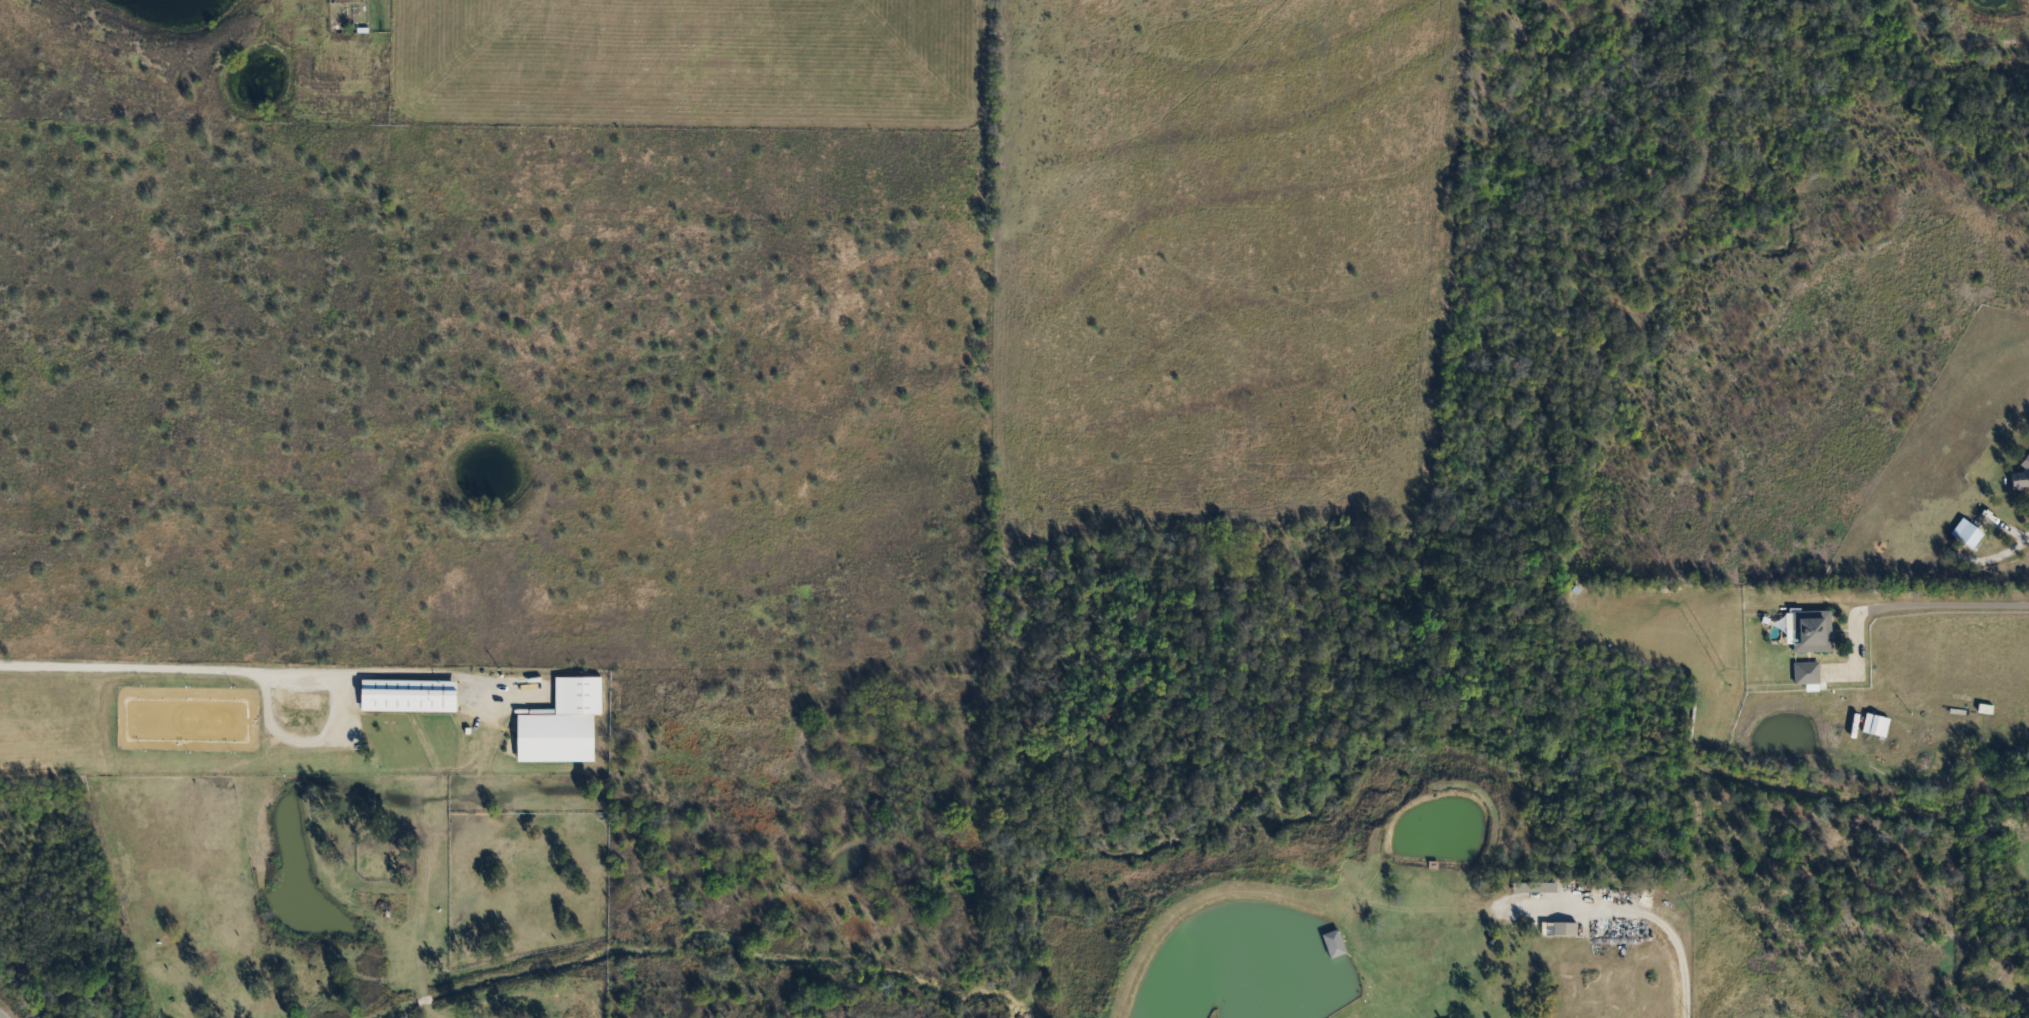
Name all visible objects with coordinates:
building: (2020, 472)
building: (1965, 532)
road: (1918, 603)
building: (1809, 629)
road: (255, 669)
building: (1804, 672)
building: (1985, 694)
road: (1656, 922)
building: (1562, 927)
building: (1332, 943)
road: (3, 1014)

